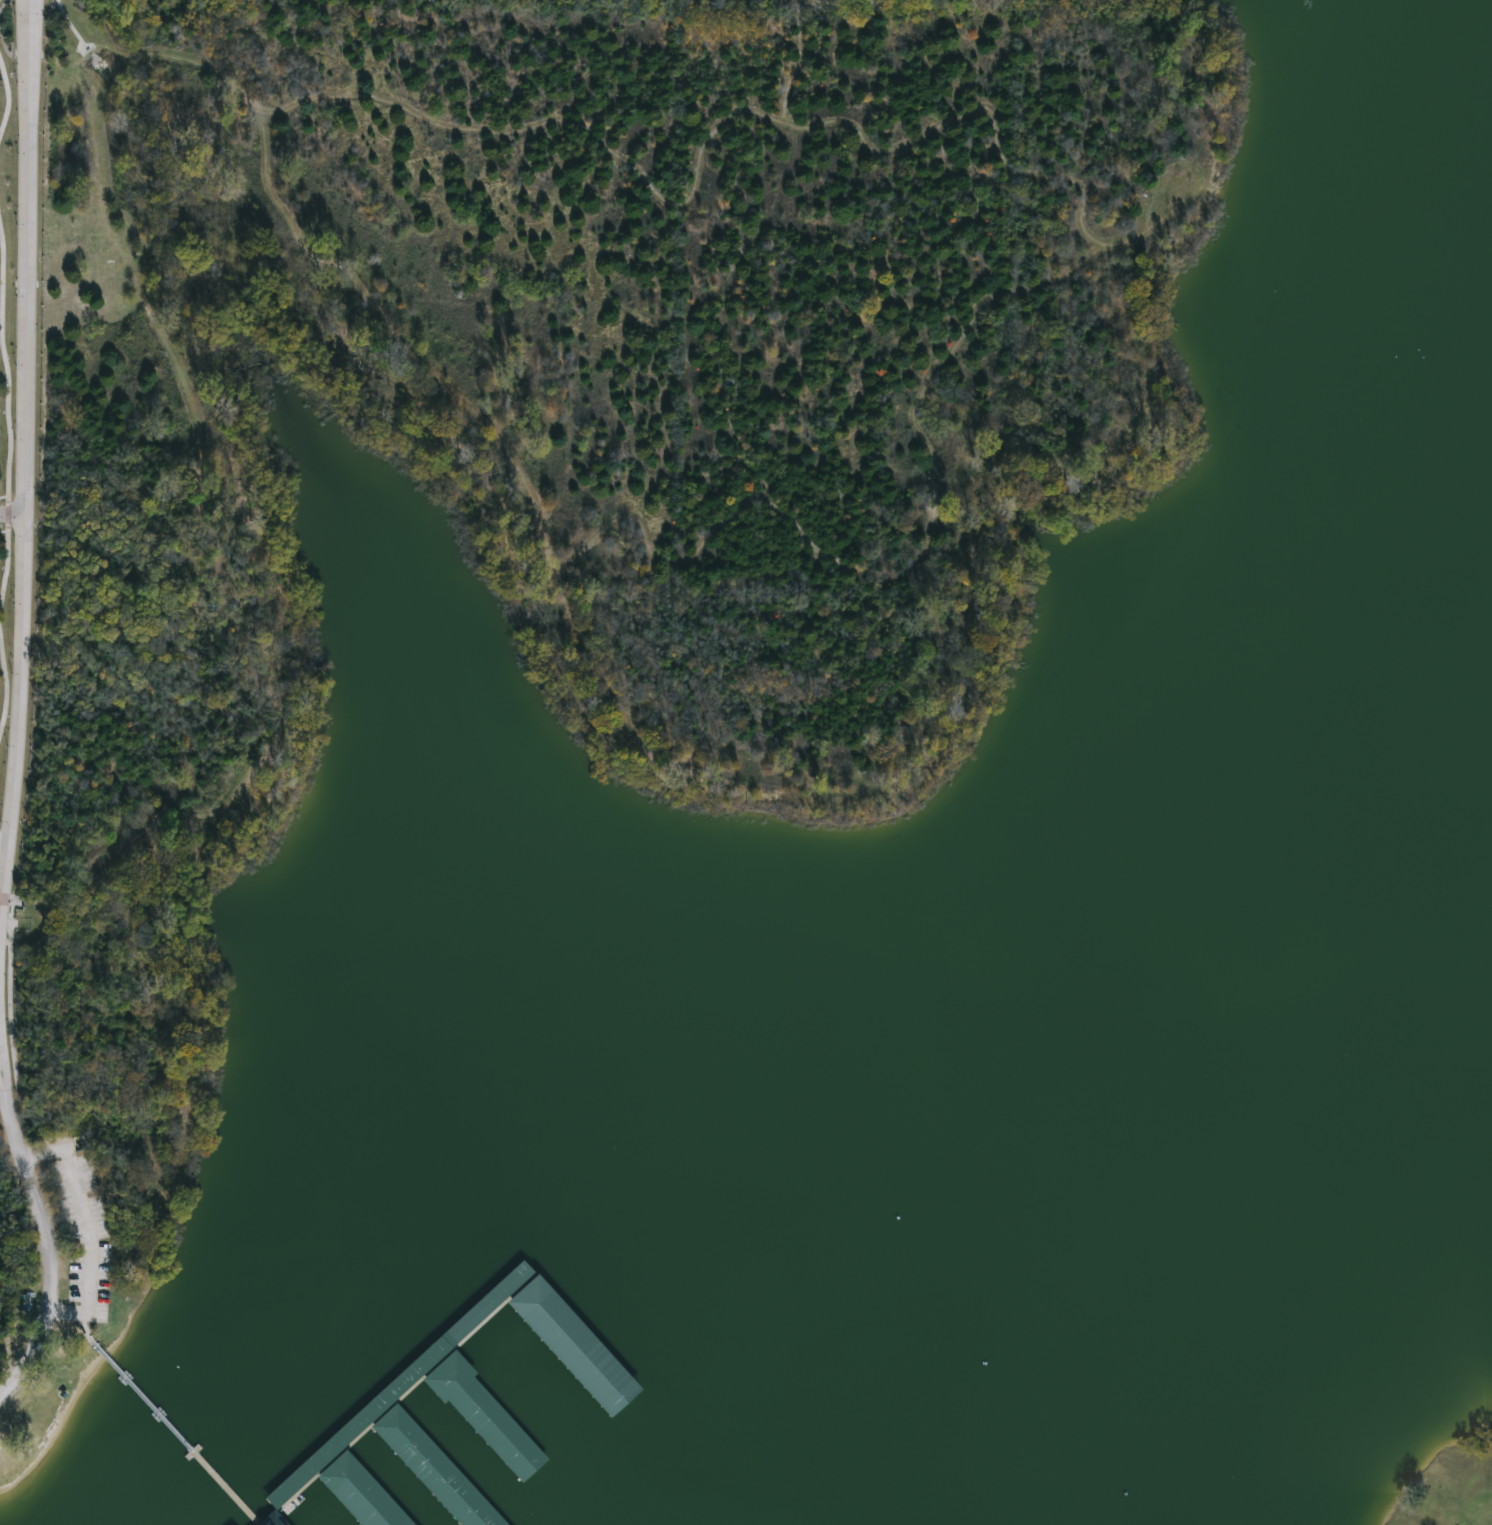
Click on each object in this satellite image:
road: (28, 257)
building: (1465, 398)
road: (13, 513)
street lamp: (12, 673)
street lamp: (9, 746)
street lamp: (2, 822)
road: (3, 845)
road: (0, 963)
road: (1, 1059)
street lamp: (56, 1162)
road: (89, 1228)
building: (485, 1418)
building: (426, 1464)
building: (360, 1494)
building: (274, 1520)

